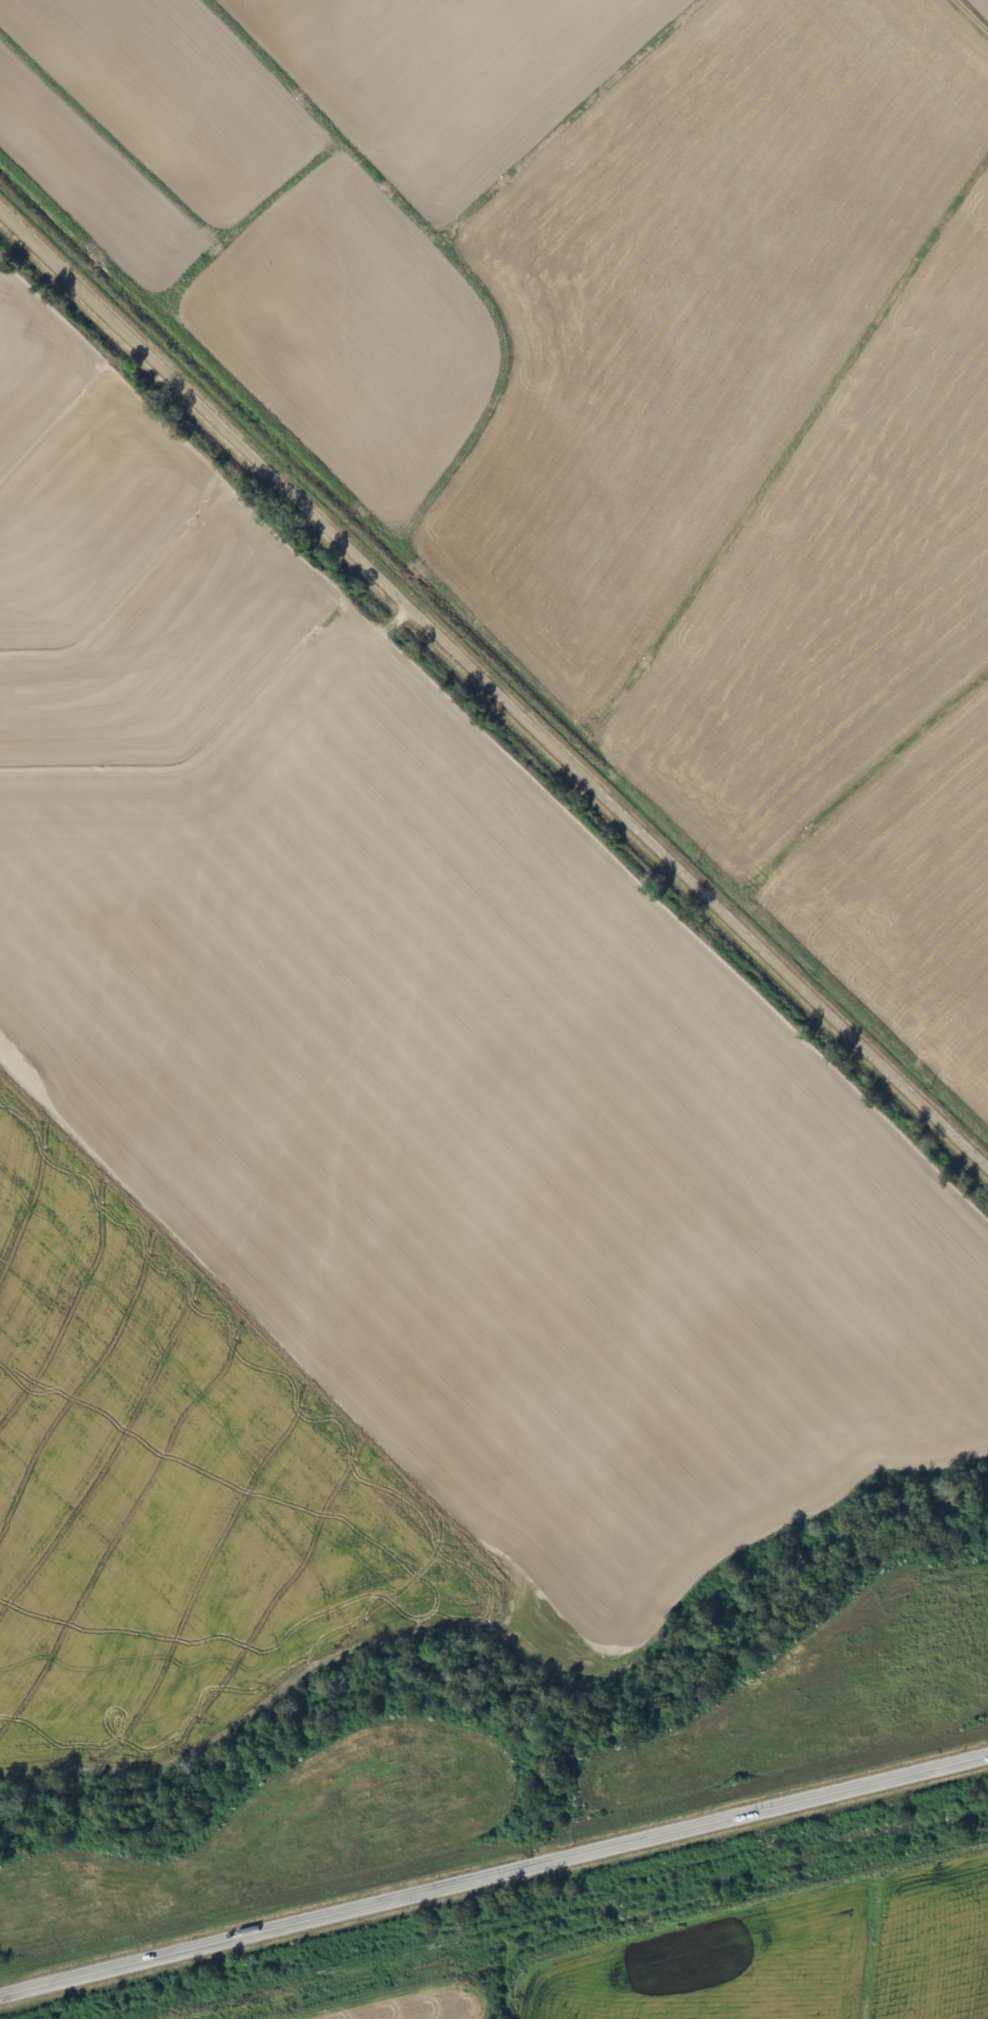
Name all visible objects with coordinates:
road: (494, 684)
road: (494, 1878)
railway: (557, 1913)

